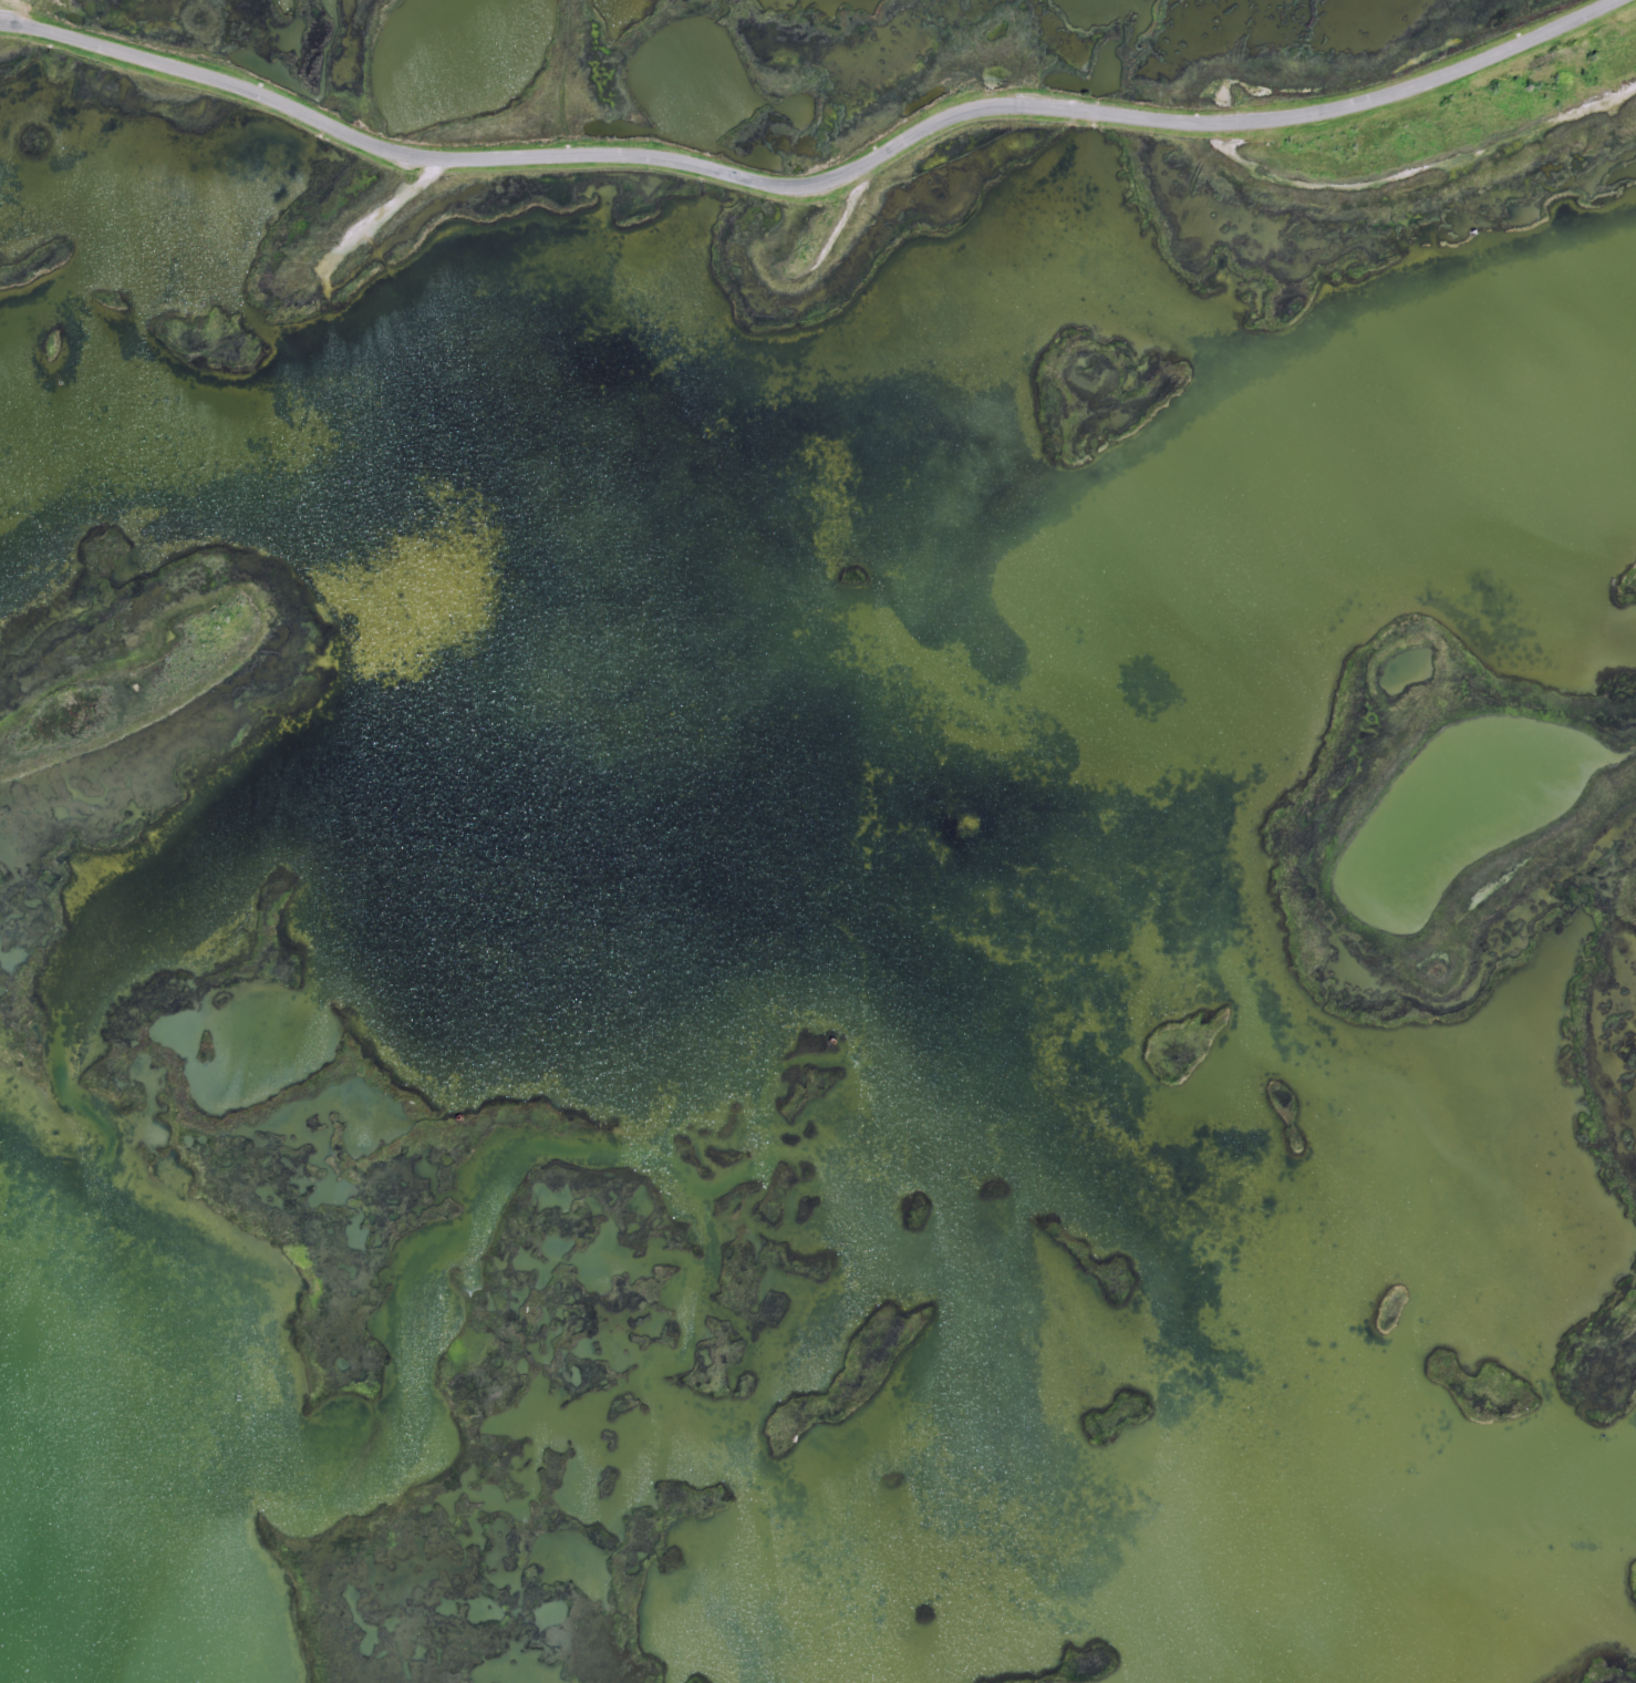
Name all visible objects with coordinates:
road: (814, 183)

